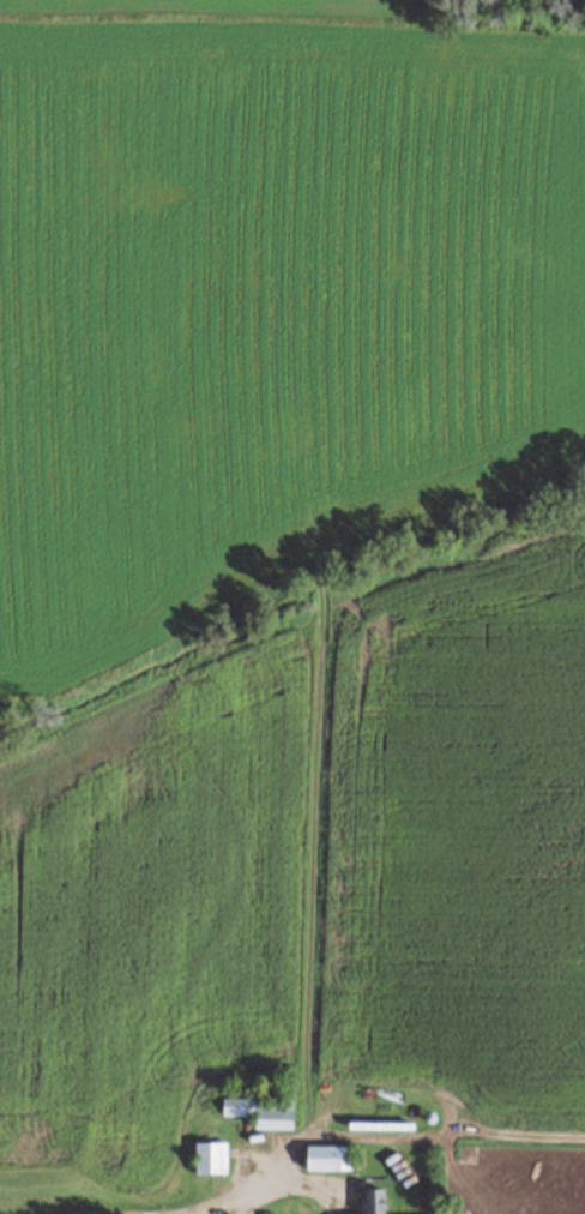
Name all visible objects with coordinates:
crop: (291, 575)
building: (261, 1110)
building: (210, 1155)
building: (327, 1156)
building: (374, 1201)

